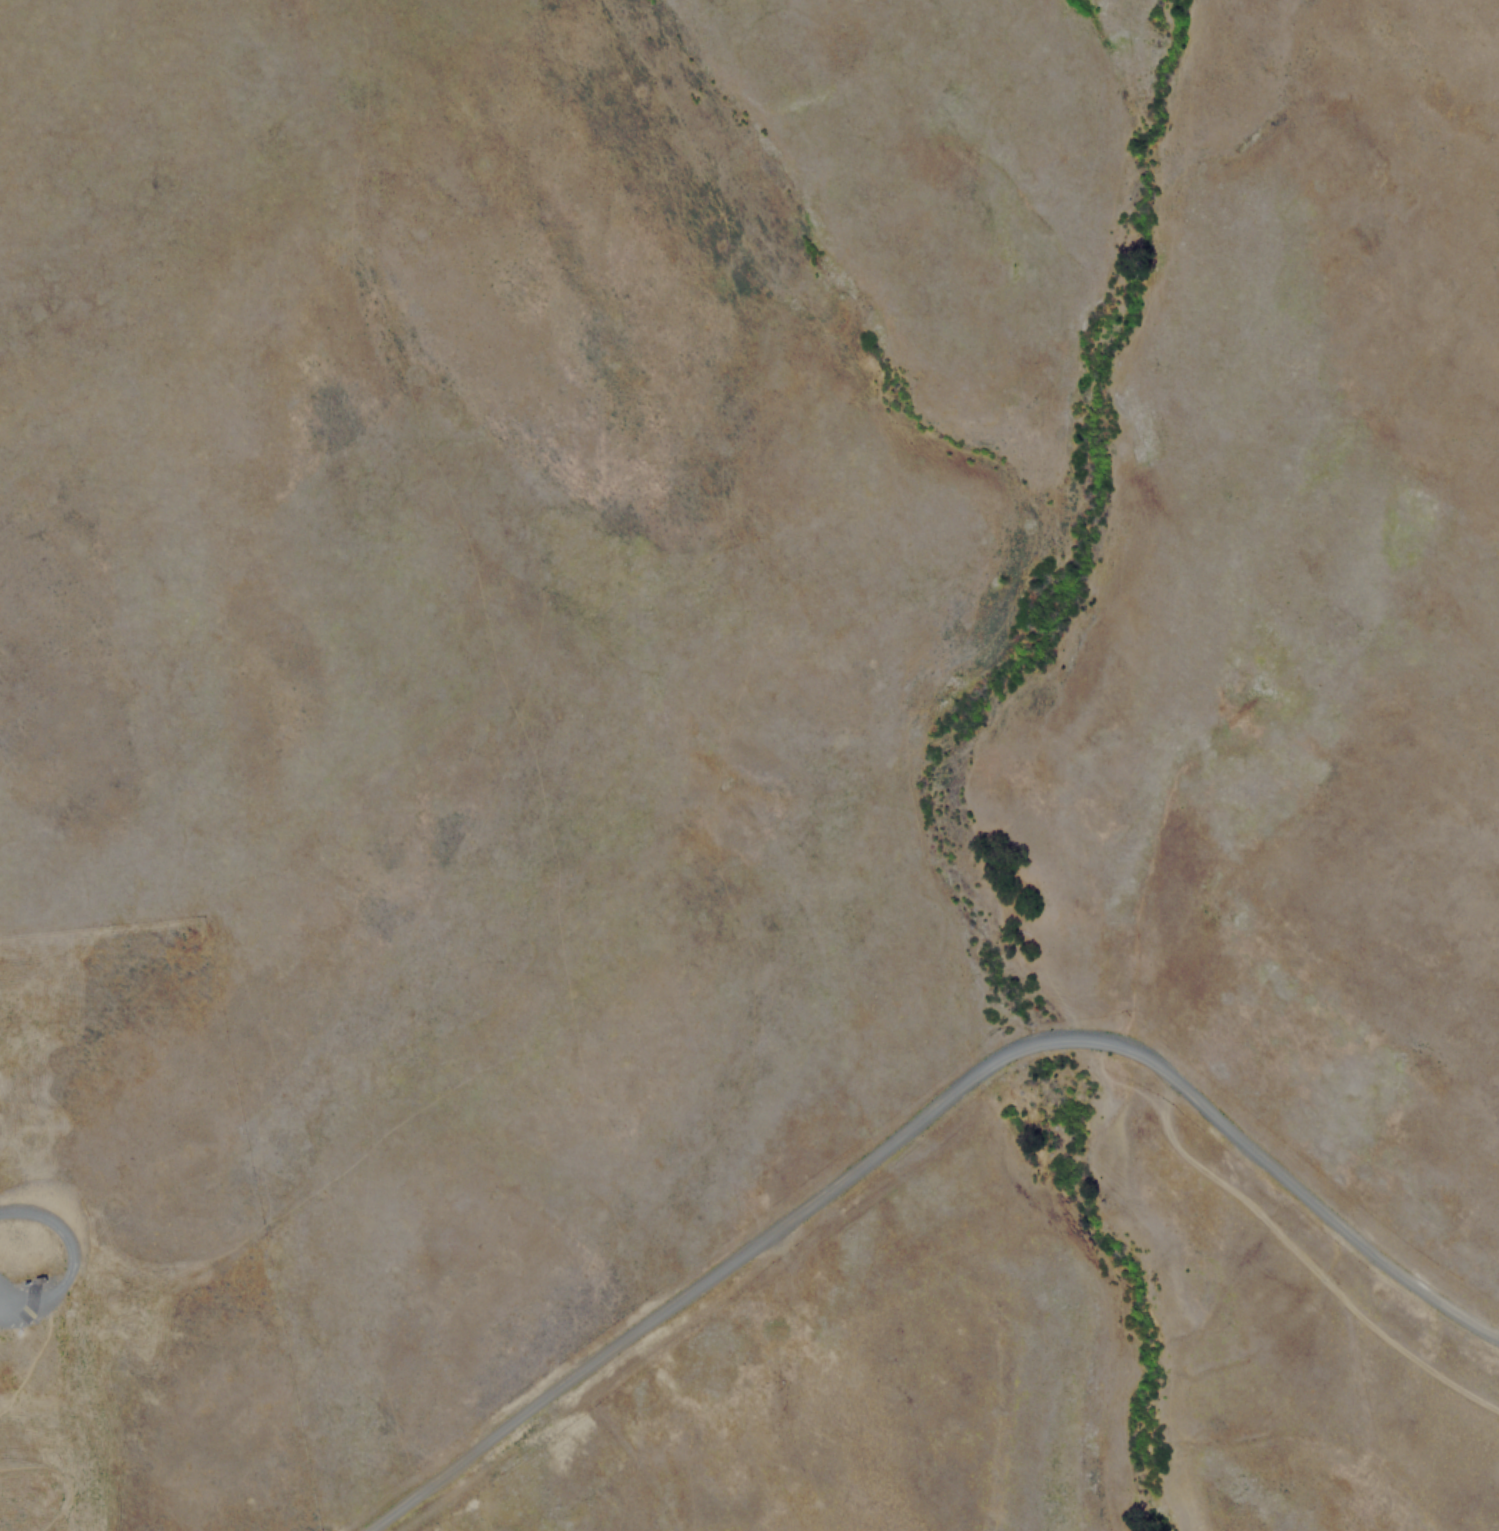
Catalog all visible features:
road: (536, 770)
road: (1123, 1082)
road: (924, 1110)
road: (70, 1256)
road: (1305, 1257)
parking lot: (16, 1302)
road: (31, 1354)
road: (57, 1477)

